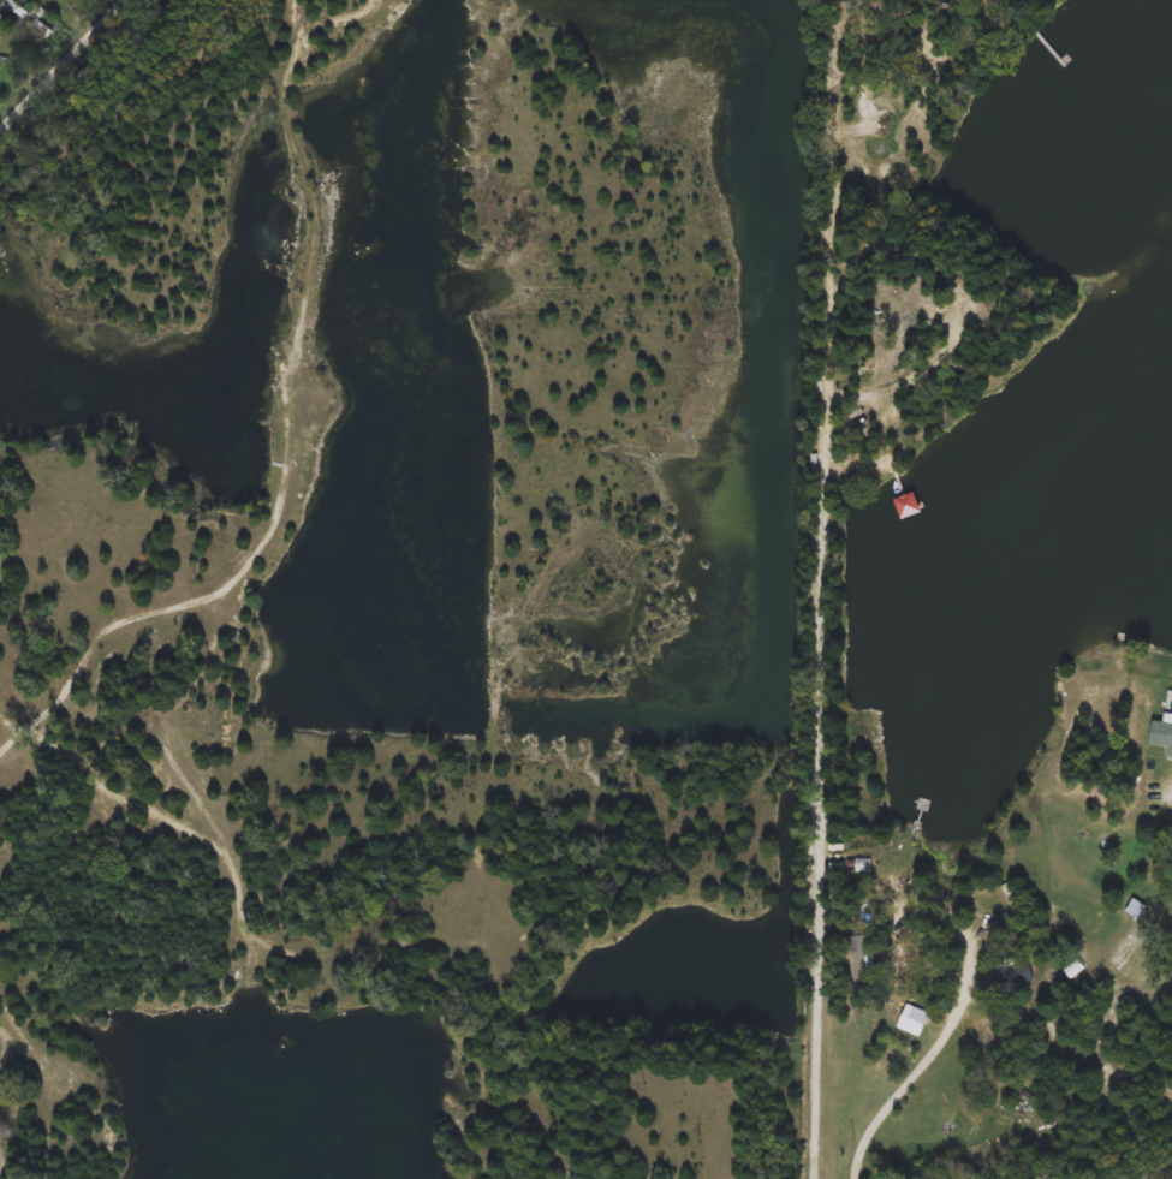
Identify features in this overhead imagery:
building: (34, 18)
road: (65, 67)
building: (1162, 733)
road: (821, 792)
building: (1135, 907)
building: (1125, 946)
building: (861, 965)
building: (1005, 977)
building: (910, 1013)
road: (921, 1062)

